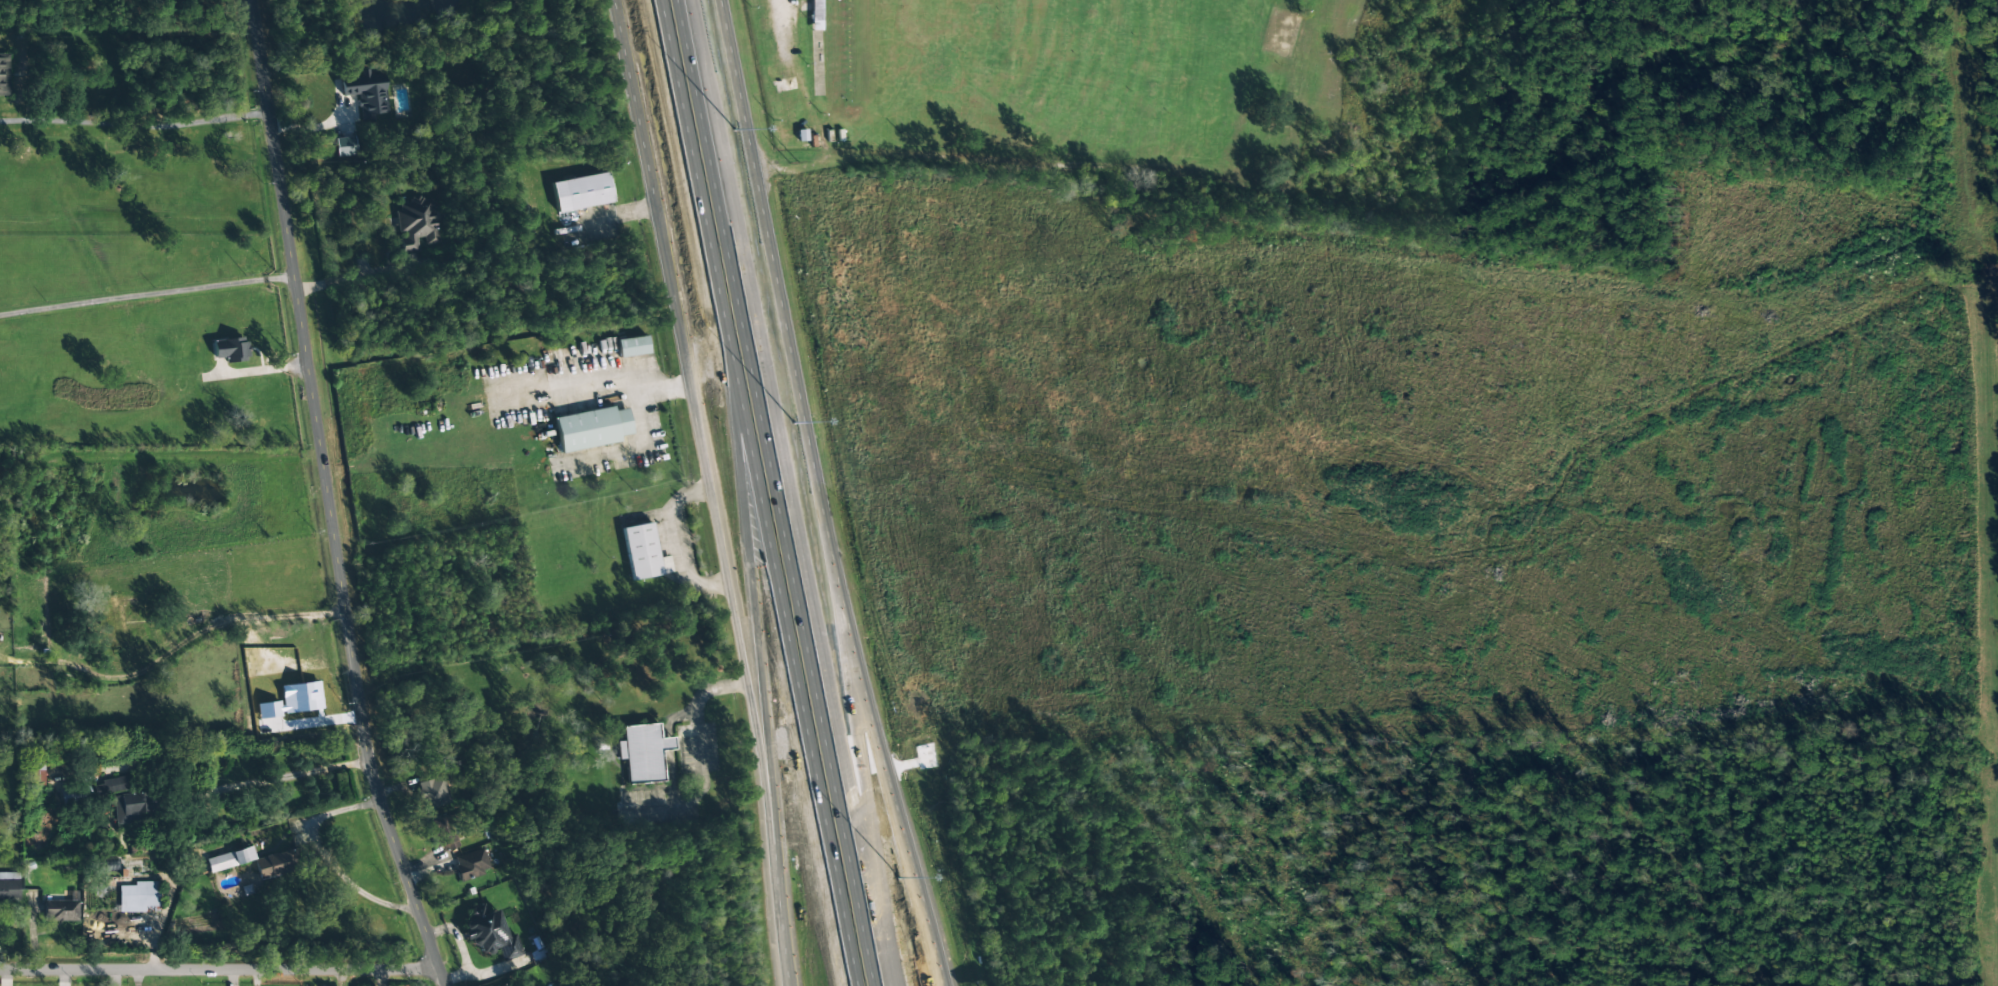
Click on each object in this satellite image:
road: (798, 26)
building: (4, 75)
park: (1092, 78)
building: (365, 91)
building: (344, 146)
road: (647, 172)
building: (581, 192)
building: (415, 223)
building: (632, 346)
building: (230, 349)
building: (591, 428)
road: (754, 493)
road: (774, 493)
road: (818, 496)
road: (329, 497)
road: (804, 522)
building: (643, 553)
road: (736, 636)
road: (759, 660)
building: (643, 753)
building: (37, 775)
building: (113, 786)
building: (433, 792)
building: (131, 807)
building: (443, 834)
building: (230, 859)
building: (277, 864)
building: (471, 864)
building: (9, 887)
building: (139, 897)
building: (62, 910)
building: (490, 934)
road: (785, 957)
road: (220, 970)
building: (519, 984)

